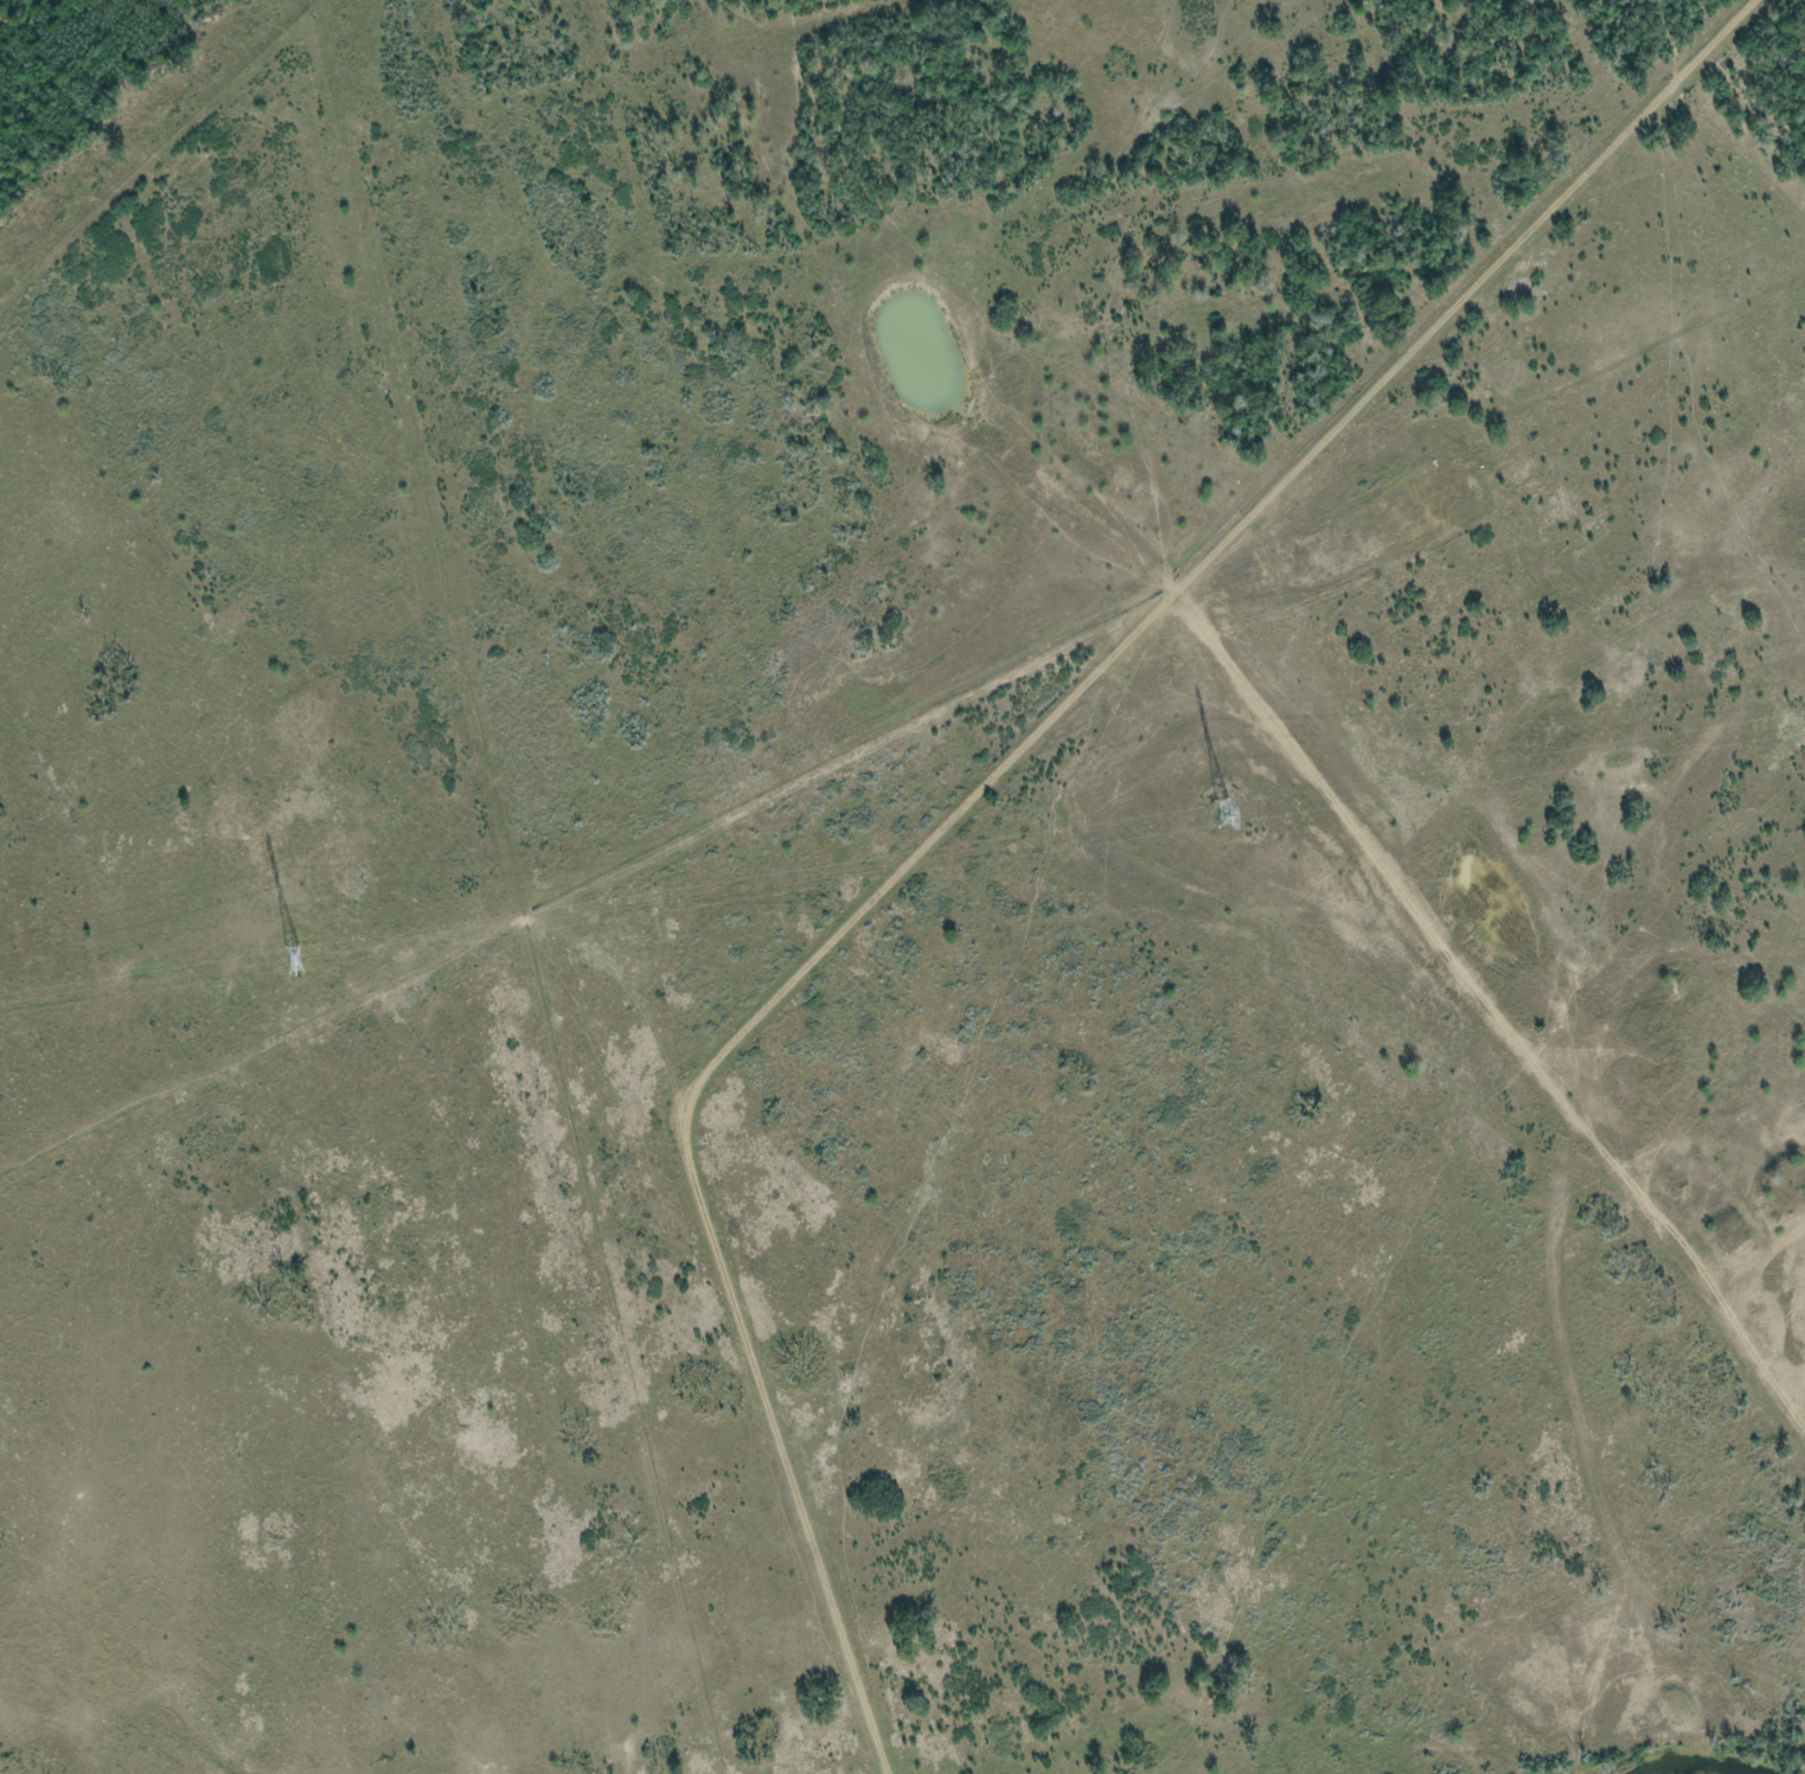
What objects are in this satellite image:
road: (1009, 812)
power tower: (1223, 813)
power tower: (295, 958)

